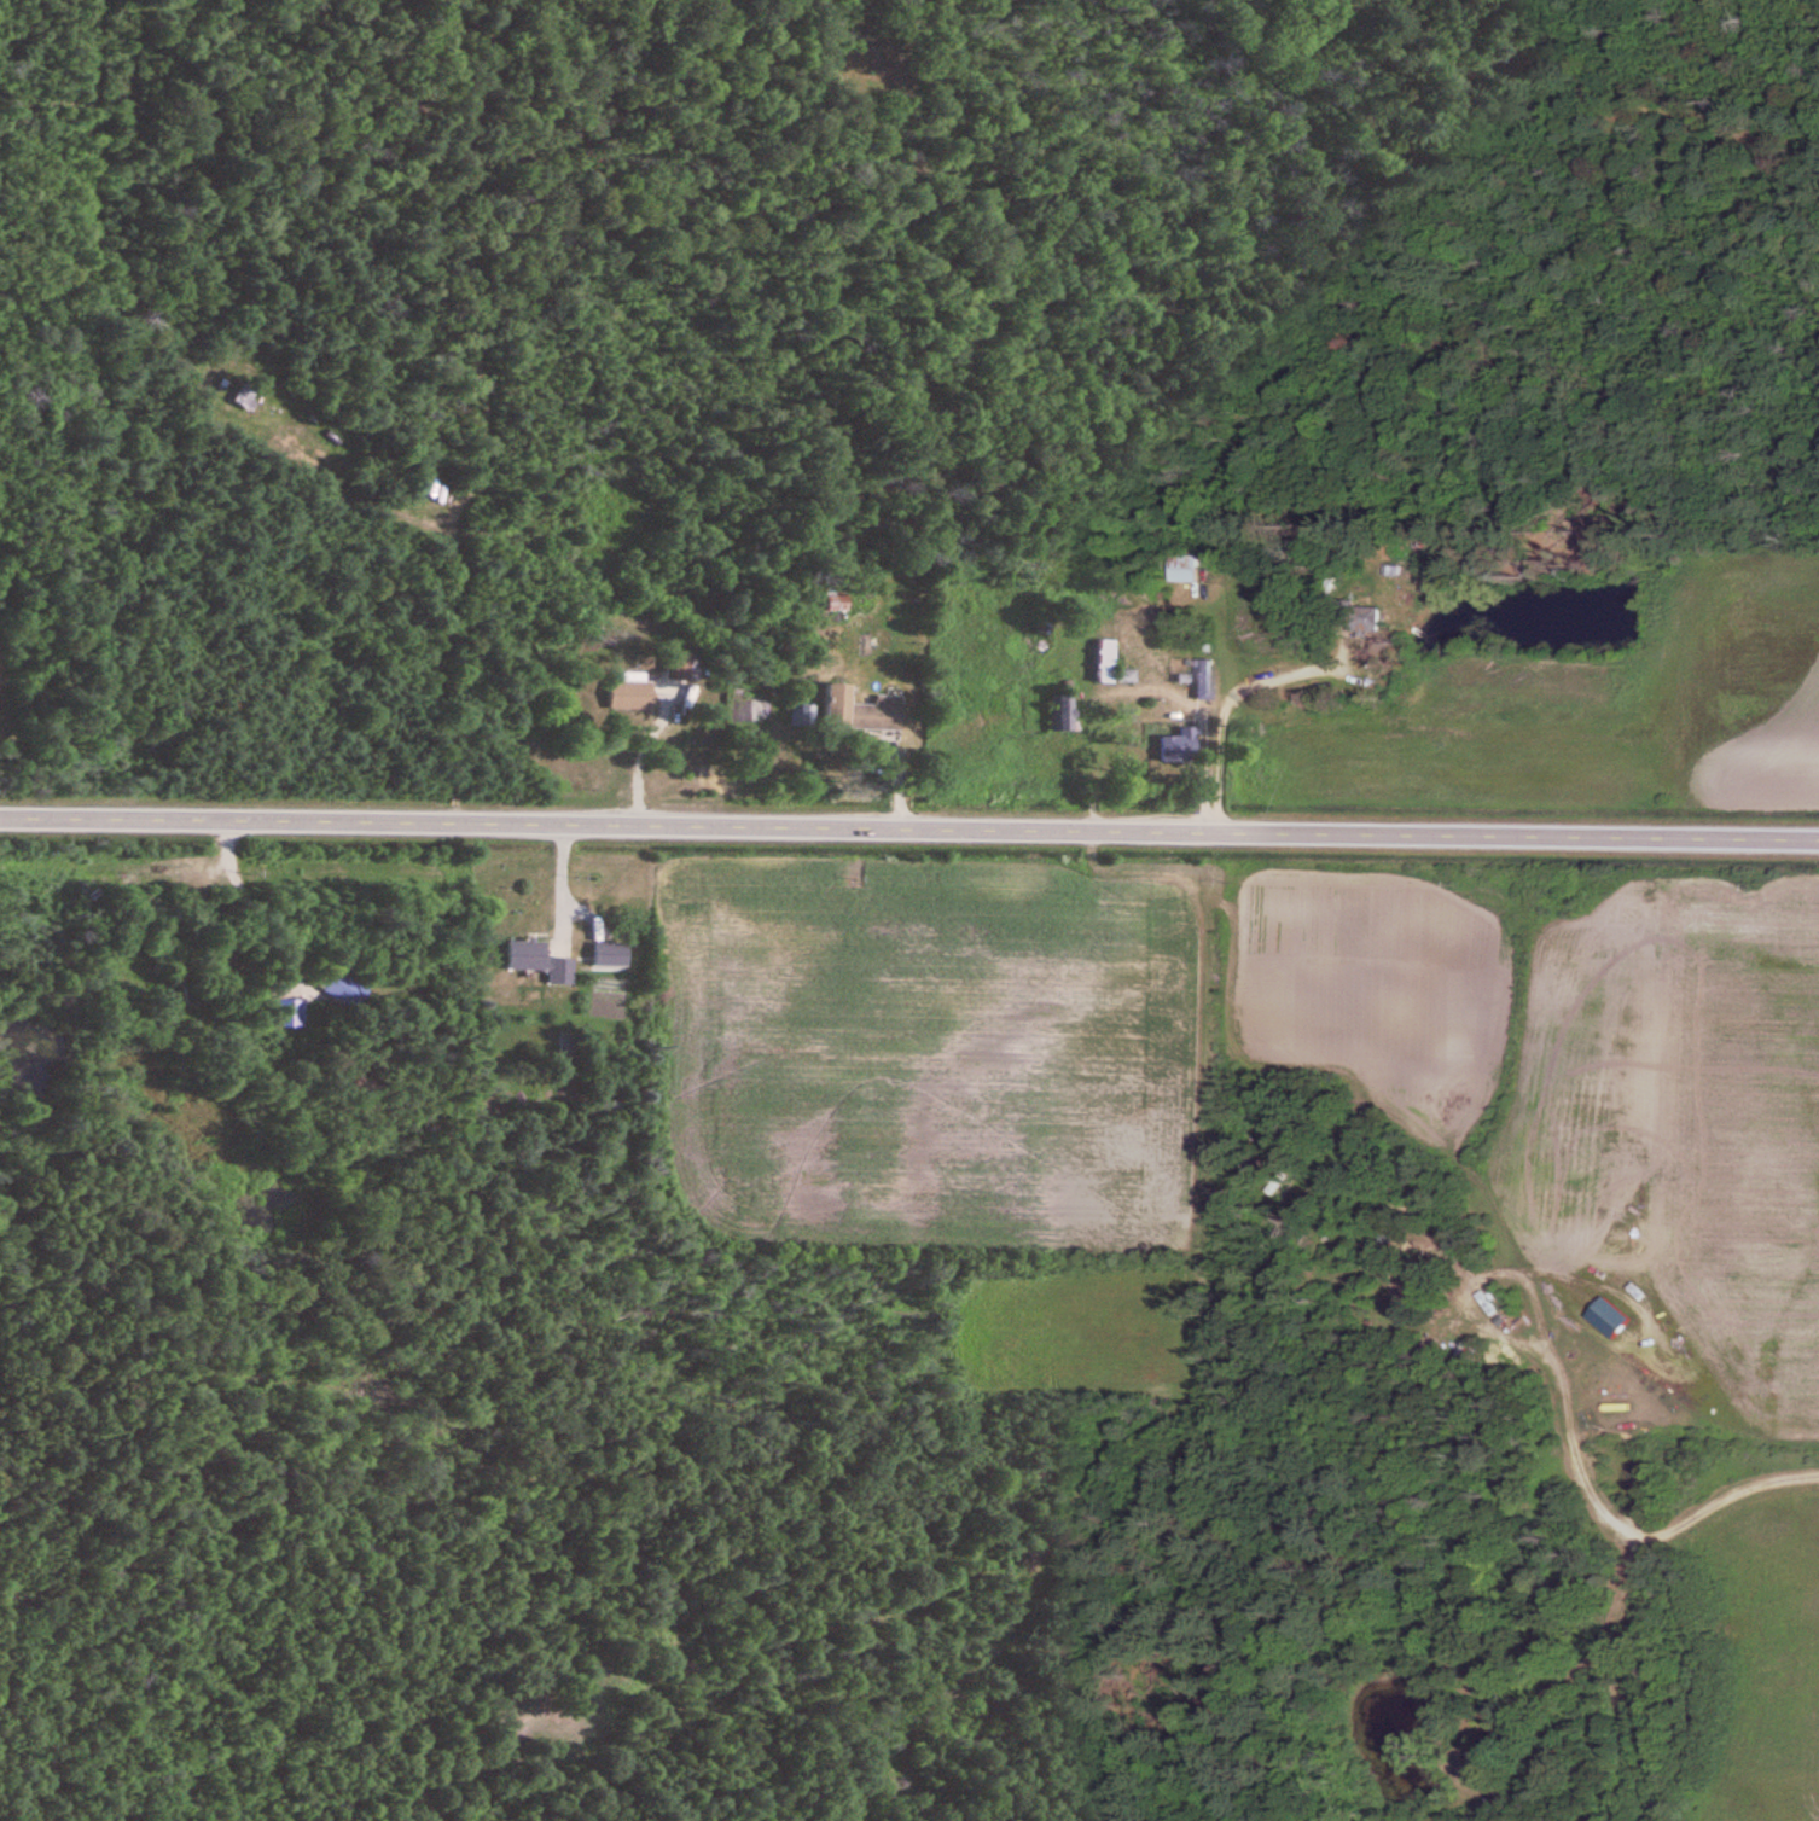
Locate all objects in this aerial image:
building: (242, 400)
building: (1187, 569)
building: (833, 599)
building: (1108, 662)
building: (1126, 676)
building: (1205, 680)
building: (630, 696)
building: (837, 705)
building: (1062, 714)
building: (879, 715)
building: (802, 716)
building: (1179, 746)
road: (1196, 770)
road: (909, 832)
building: (193, 859)
building: (611, 954)
building: (527, 955)
building: (562, 971)
building: (345, 989)

